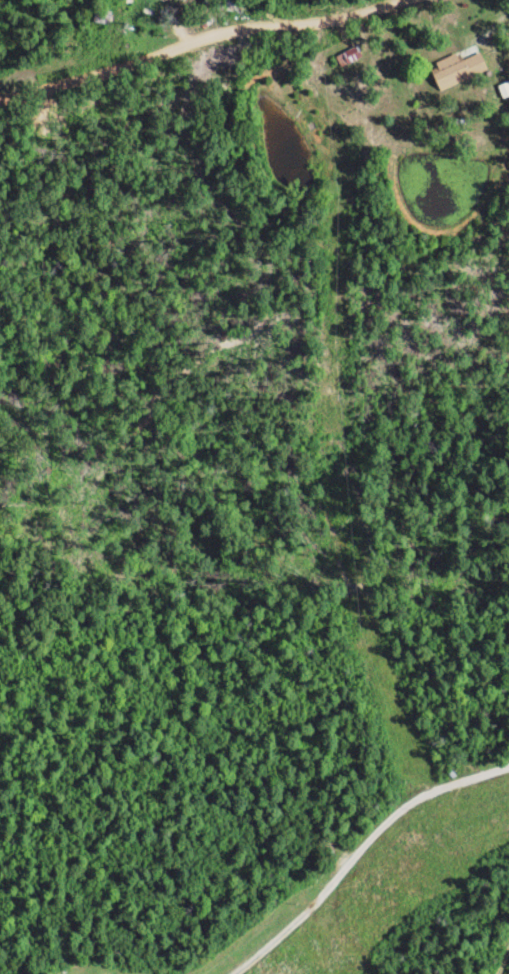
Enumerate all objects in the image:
road: (196, 40)
building: (465, 68)

